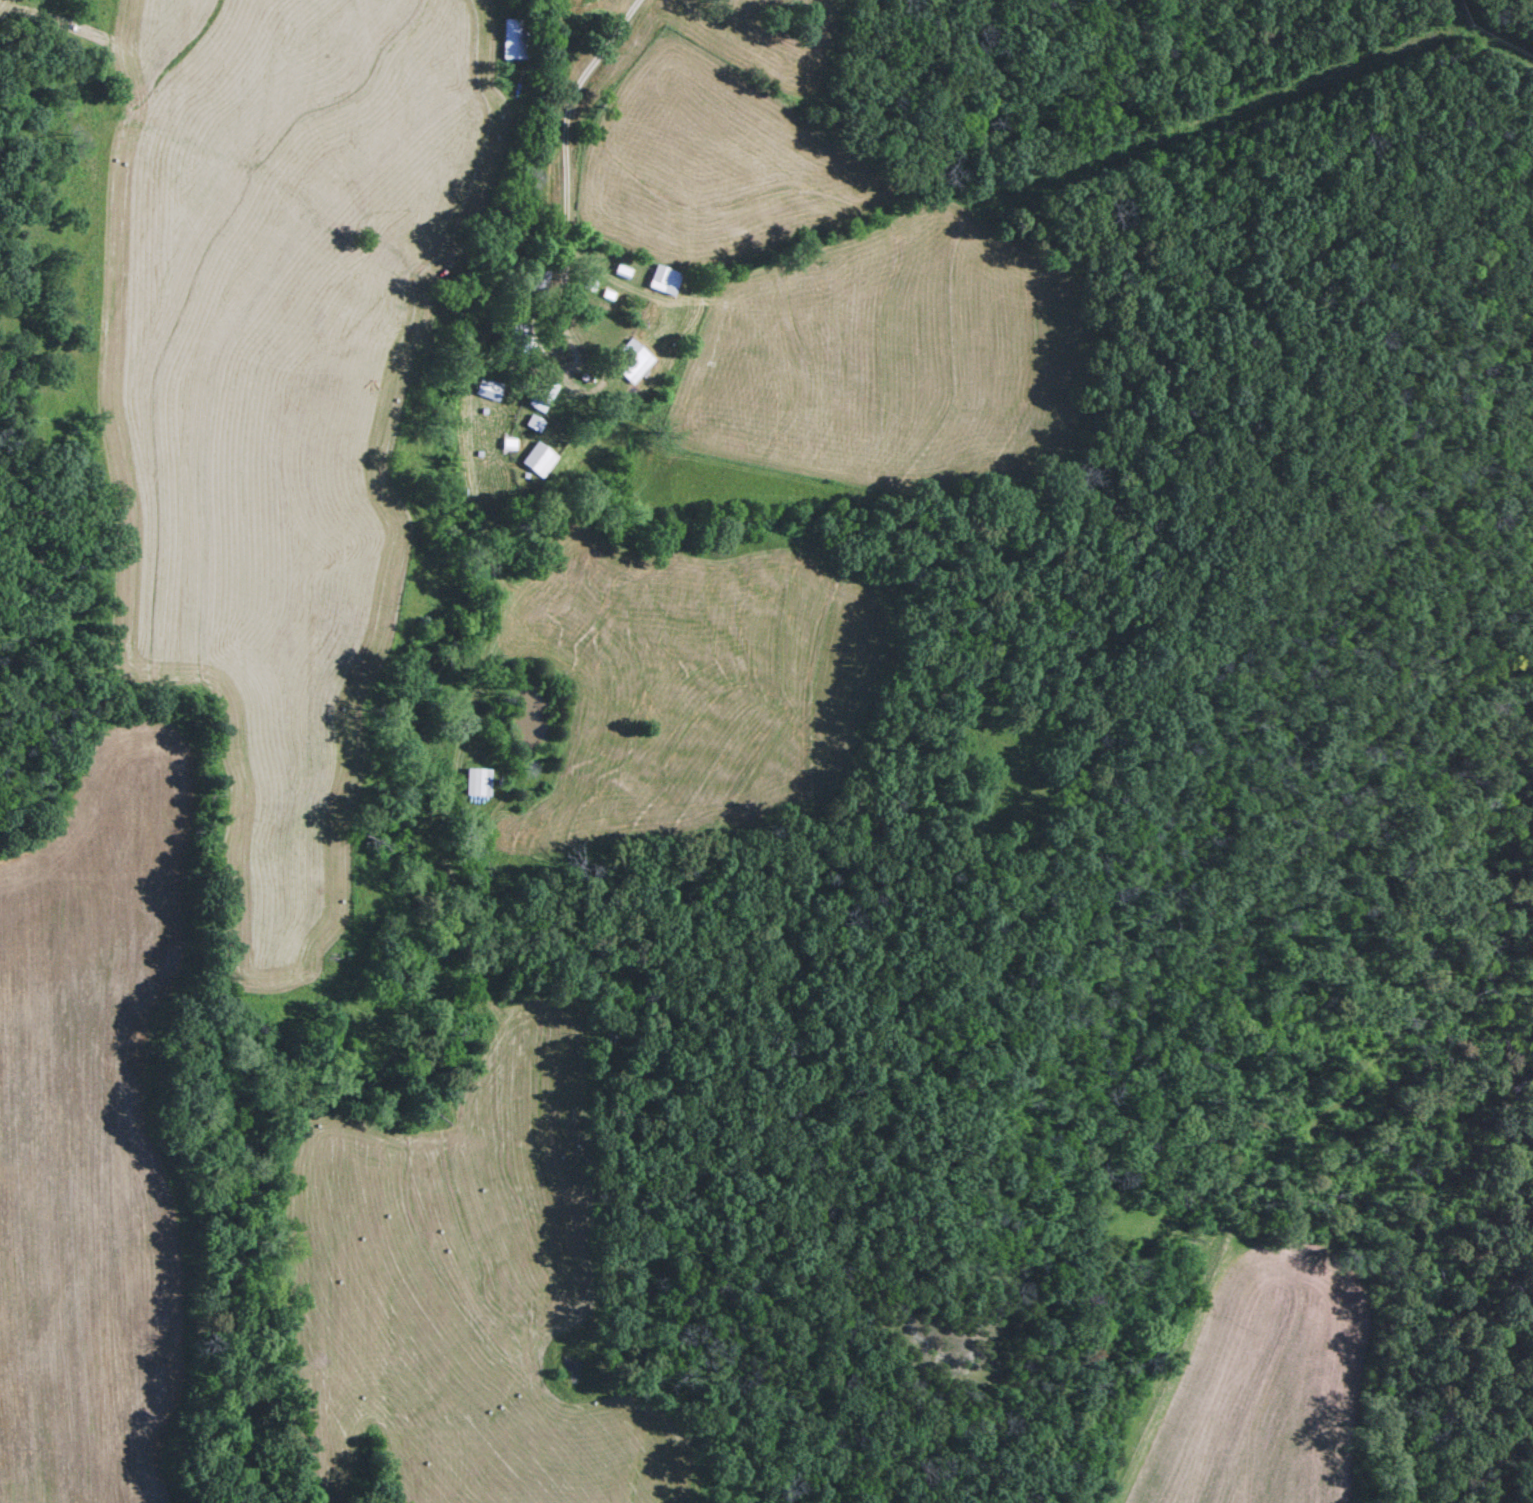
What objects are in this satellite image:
building: (551, 2)
building: (510, 42)
building: (620, 273)
building: (661, 281)
building: (539, 285)
building: (515, 340)
building: (627, 364)
road: (1247, 373)
building: (487, 391)
building: (537, 397)
building: (530, 425)
building: (534, 462)
building: (474, 783)
road: (1304, 935)

